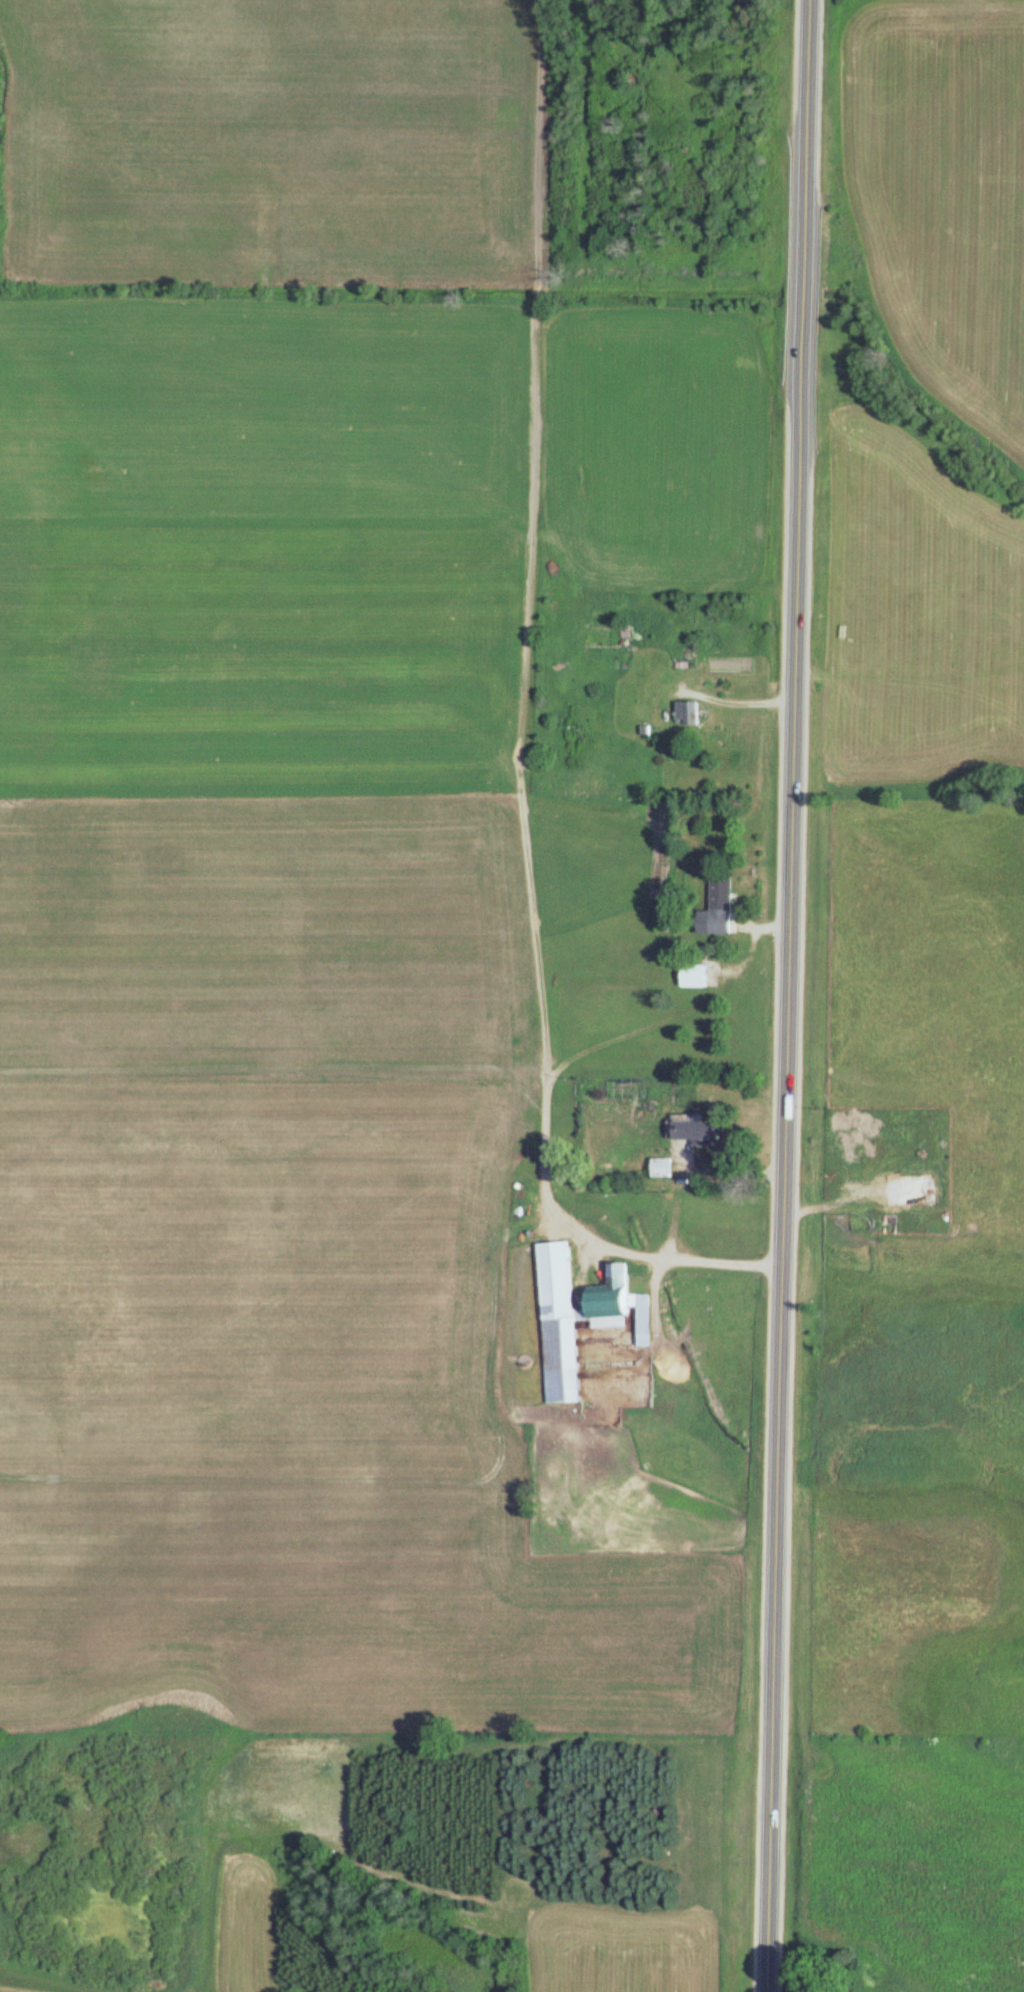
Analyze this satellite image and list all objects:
building: (627, 631)
building: (692, 713)
building: (723, 905)
building: (697, 976)
road: (792, 996)
building: (708, 1133)
building: (663, 1168)
building: (581, 1319)
building: (918, 1938)
building: (873, 1959)

